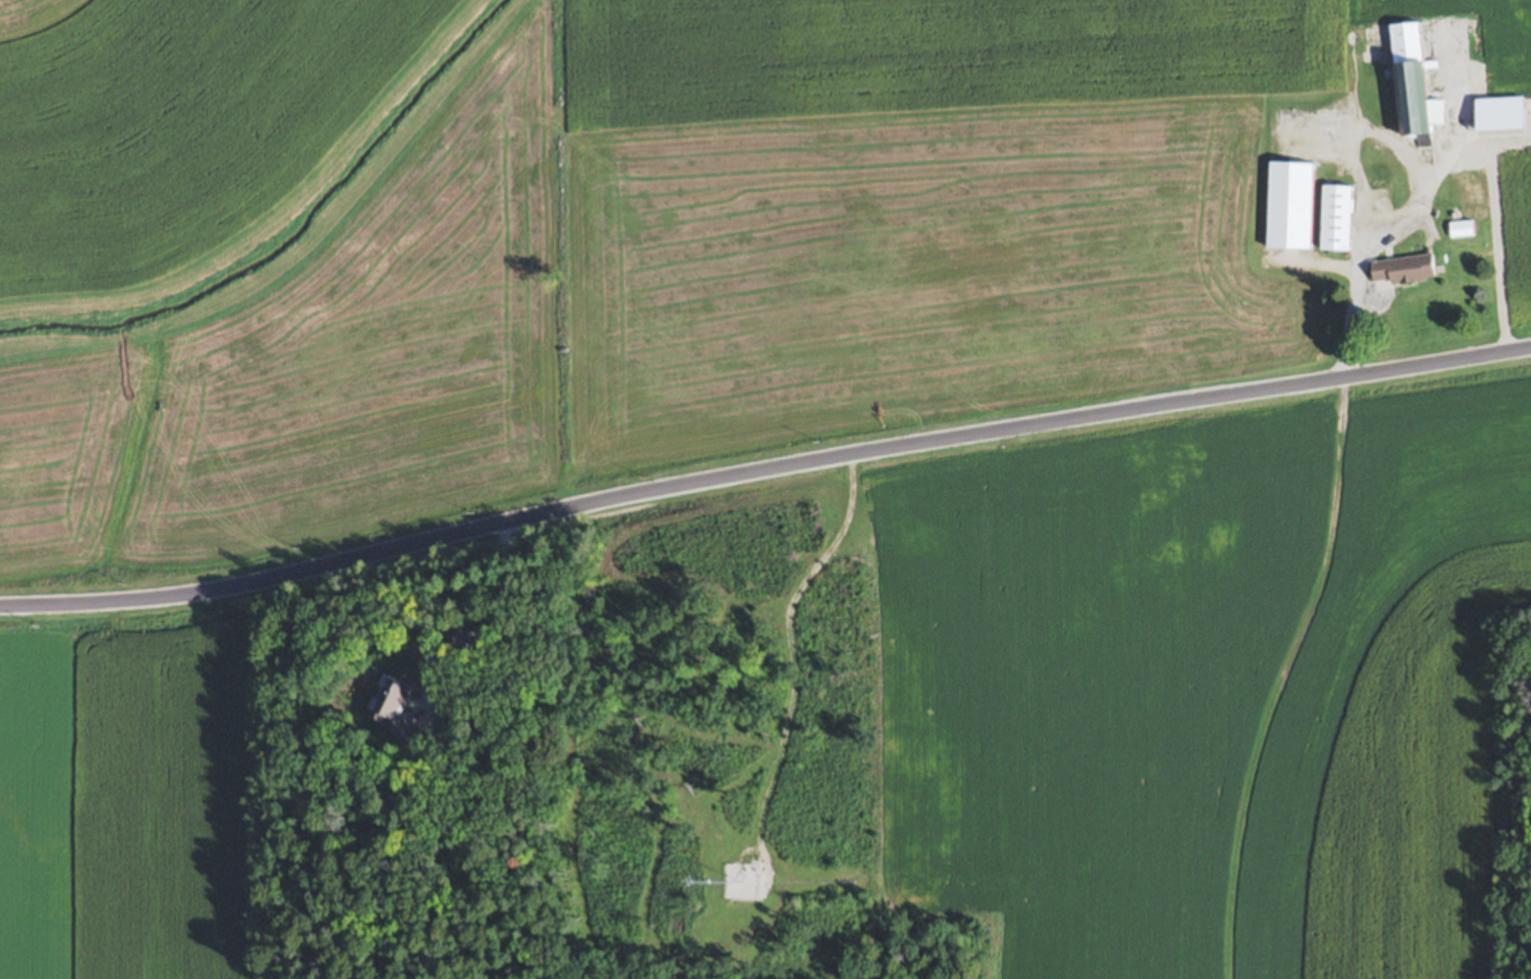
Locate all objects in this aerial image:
building: (1408, 83)
building: (1497, 116)
road: (1435, 164)
building: (1374, 180)
building: (1470, 188)
building: (1289, 208)
building: (1335, 220)
building: (1460, 231)
building: (1399, 272)
road: (763, 467)

